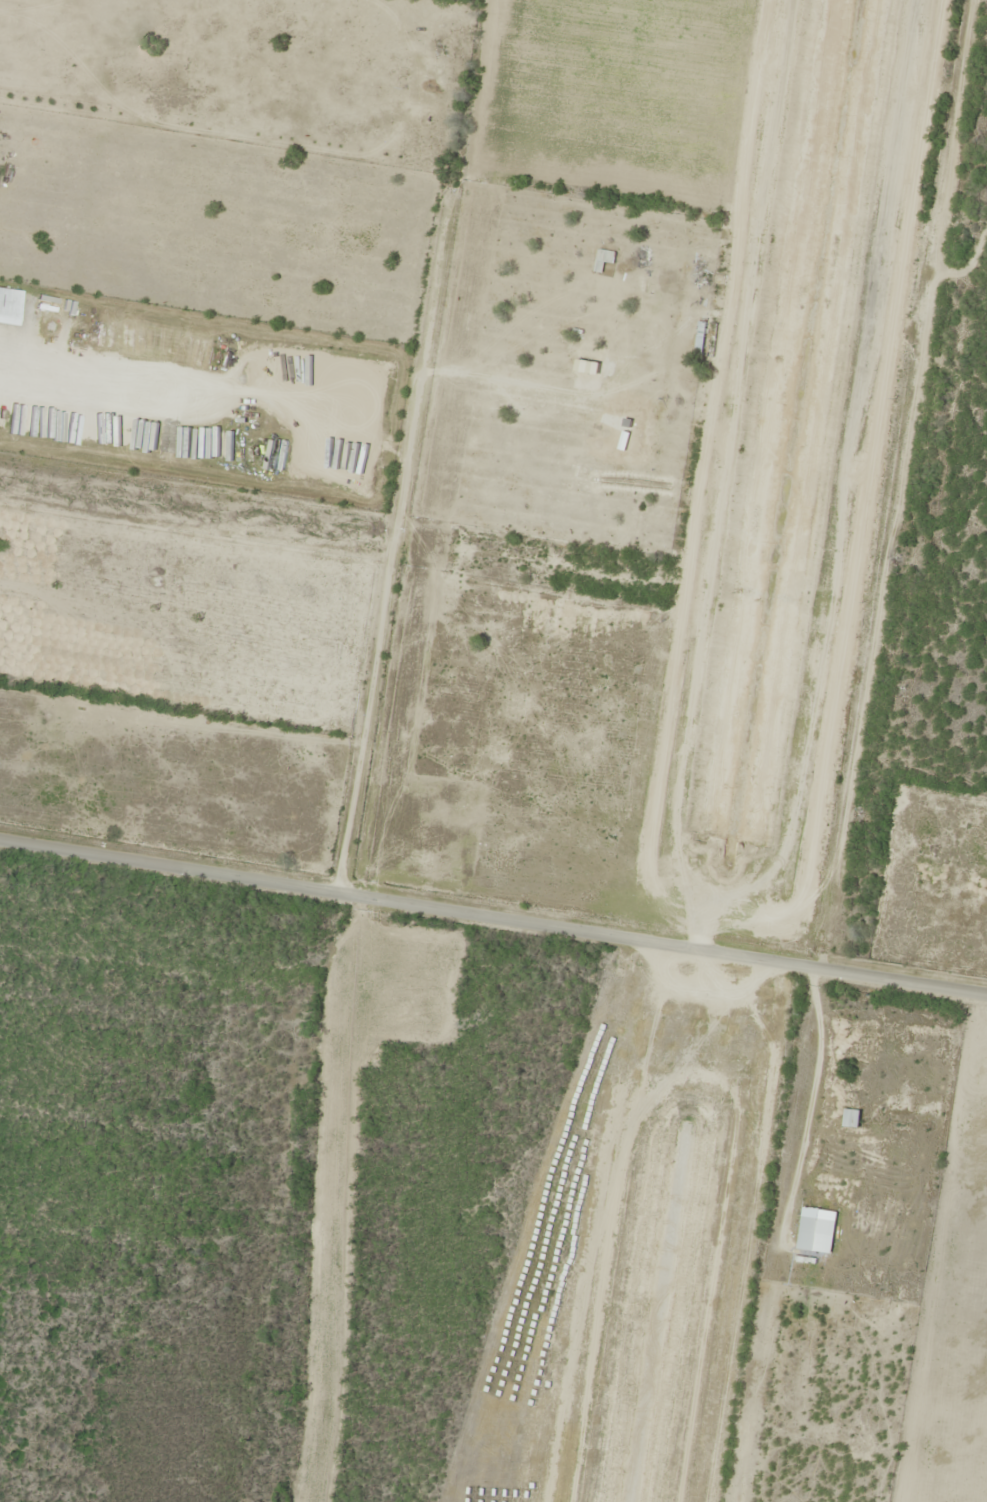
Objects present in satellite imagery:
building: (723, 280)
building: (705, 339)
railway: (876, 785)
road: (414, 911)
road: (908, 988)

